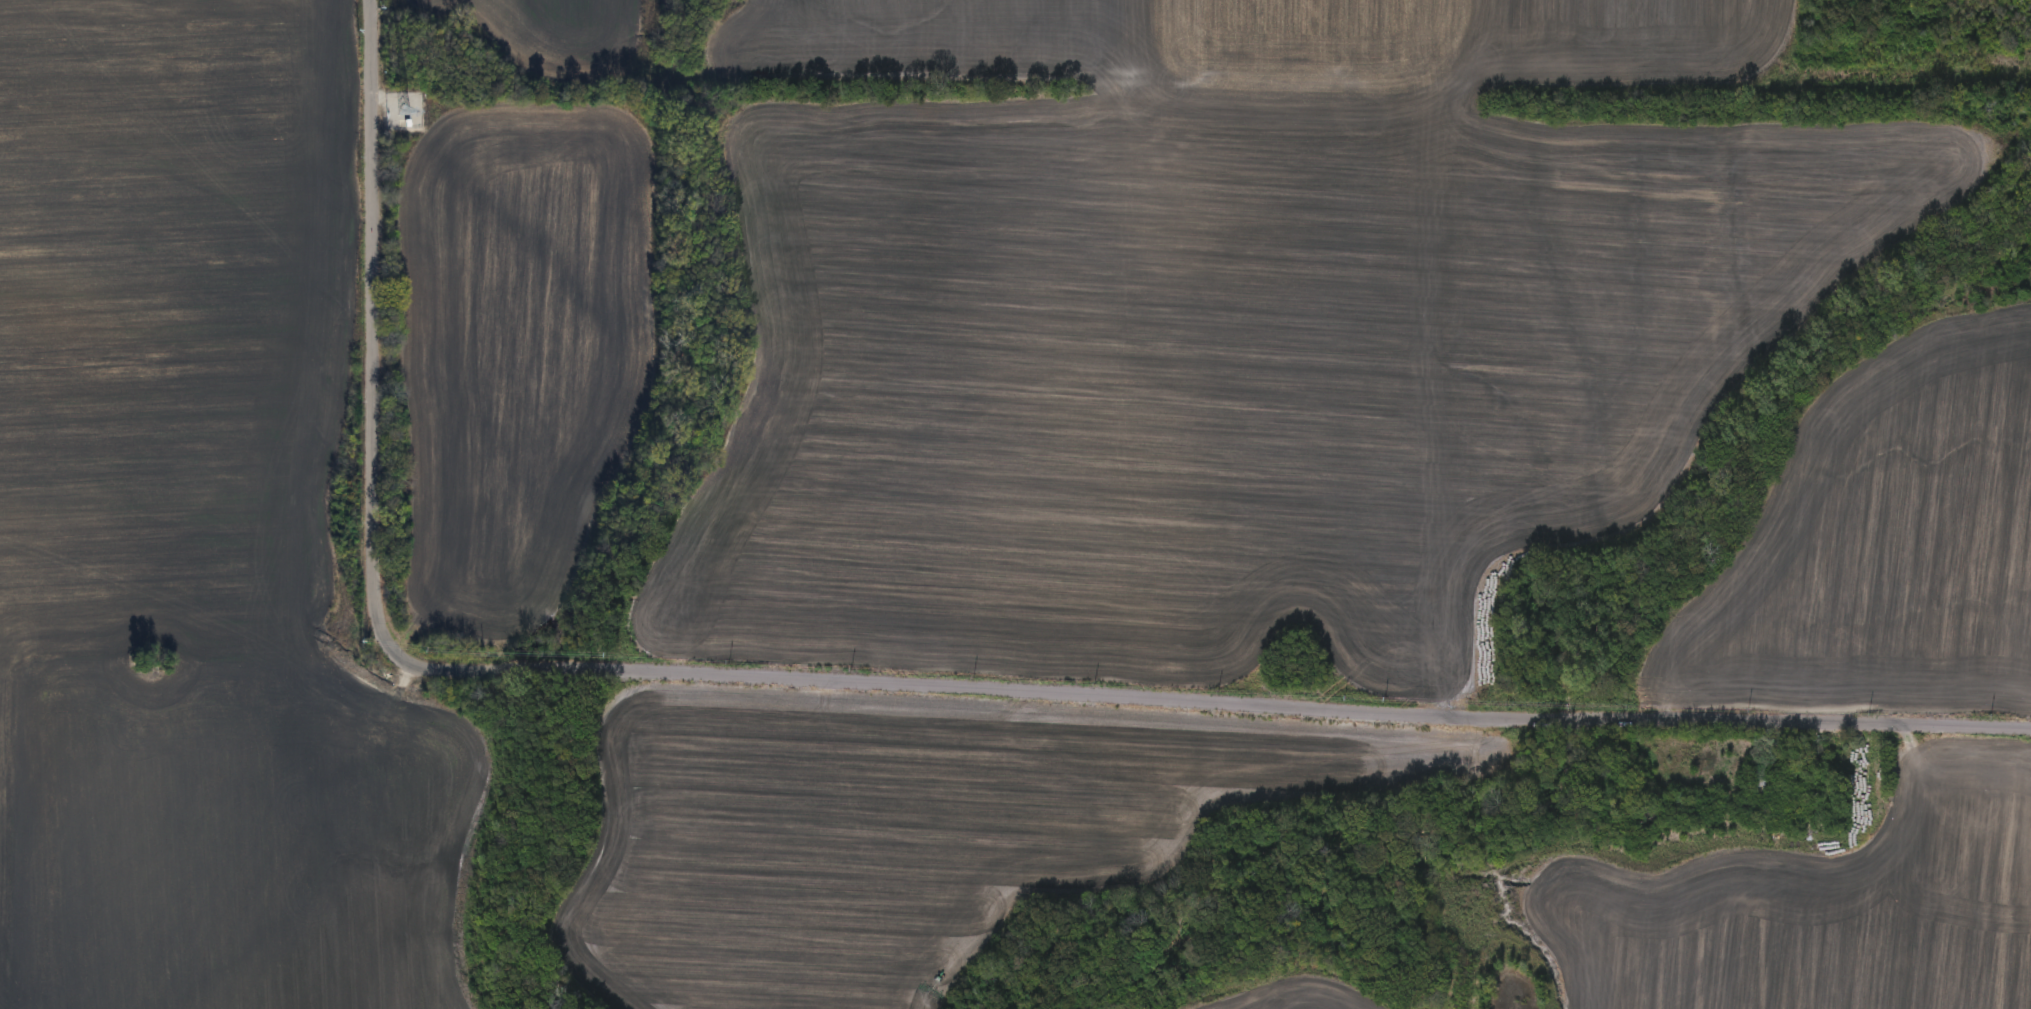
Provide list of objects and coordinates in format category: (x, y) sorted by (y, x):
road: (882, 683)
building: (1756, 789)
building: (1744, 806)

